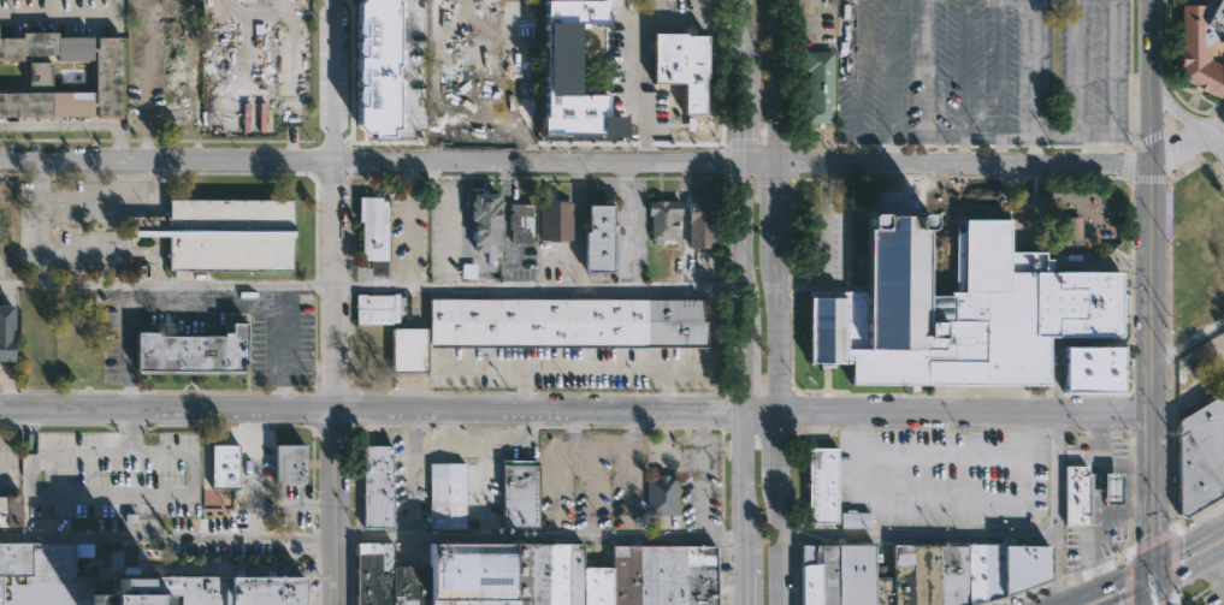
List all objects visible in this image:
road: (57, 13)
building: (436, 17)
road: (635, 40)
building: (1201, 48)
building: (388, 55)
road: (852, 66)
road: (891, 66)
road: (926, 66)
road: (964, 66)
road: (998, 66)
road: (1034, 66)
road: (1074, 66)
building: (682, 67)
road: (1111, 69)
parking lot: (982, 72)
building: (37, 78)
building: (451, 78)
road: (143, 79)
road: (333, 79)
road: (737, 81)
road: (774, 82)
road: (1149, 82)
building: (820, 88)
building: (514, 93)
building: (590, 96)
road: (1177, 111)
road: (1212, 121)
road: (75, 126)
road: (873, 134)
road: (907, 134)
road: (945, 134)
road: (981, 134)
road: (1016, 134)
road: (1069, 134)
road: (1216, 147)
road: (855, 148)
road: (891, 148)
road: (963, 148)
road: (997, 148)
road: (1033, 148)
road: (1104, 148)
road: (1179, 150)
road: (368, 160)
traffic signals: (739, 161)
road: (757, 162)
traffic signals: (775, 164)
road: (926, 164)
road: (1113, 164)
road: (156, 192)
road: (99, 201)
road: (40, 220)
building: (662, 220)
building: (700, 221)
building: (555, 223)
road: (408, 224)
building: (483, 224)
road: (575, 224)
building: (520, 225)
road: (625, 225)
building: (1072, 225)
road: (158, 232)
building: (374, 232)
building: (227, 235)
building: (597, 241)
road: (99, 256)
road: (156, 261)
road: (167, 284)
road: (537, 287)
building: (952, 303)
road: (205, 304)
building: (374, 309)
building: (566, 321)
building: (6, 336)
road: (1188, 343)
road: (128, 346)
road: (283, 348)
building: (408, 349)
building: (190, 350)
road: (595, 364)
building: (1087, 368)
road: (335, 381)
road: (739, 382)
road: (775, 384)
road: (1151, 384)
road: (574, 411)
road: (663, 438)
road: (598, 450)
road: (130, 452)
building: (1200, 453)
road: (944, 455)
building: (290, 462)
road: (1124, 464)
building: (223, 465)
parking lot: (112, 474)
road: (702, 474)
road: (255, 476)
building: (821, 484)
building: (376, 486)
building: (1110, 487)
road: (557, 491)
road: (96, 493)
building: (518, 493)
road: (591, 493)
road: (628, 493)
building: (1075, 493)
building: (661, 494)
building: (445, 496)
road: (1098, 500)
building: (10, 506)
road: (1054, 509)
building: (853, 518)
road: (916, 534)
road: (538, 535)
road: (1188, 541)
road: (167, 542)
traffic signals: (1152, 563)
road: (349, 570)
road: (1187, 570)
building: (474, 571)
building: (372, 573)
building: (918, 573)
road: (1216, 573)
building: (537, 574)
building: (558, 574)
building: (574, 574)
building: (40, 575)
building: (617, 575)
building: (631, 575)
building: (644, 575)
building: (661, 575)
building: (693, 575)
road: (1106, 583)
building: (409, 585)
building: (596, 586)
road: (304, 589)
building: (126, 591)
building: (236, 591)
traffic signals: (1152, 593)
road: (1136, 599)
building: (486, 601)

